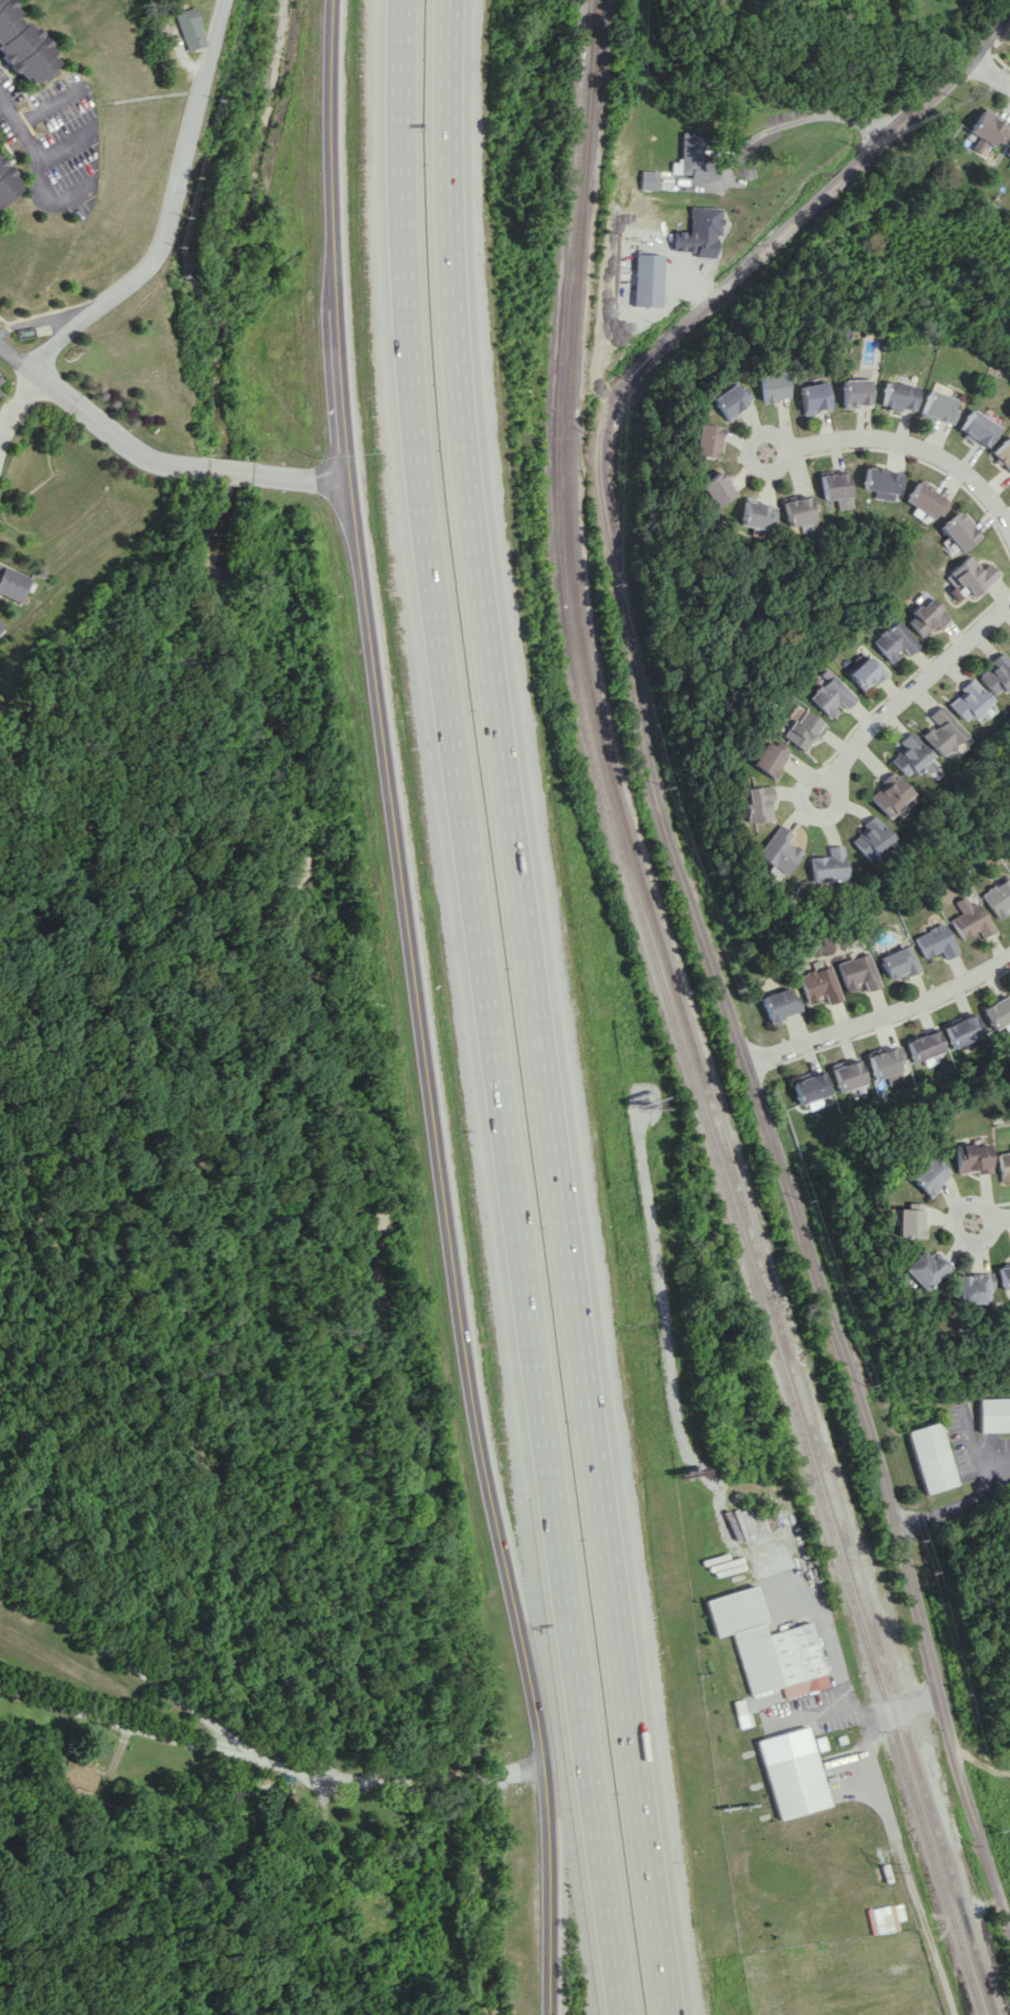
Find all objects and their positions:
building: (188, 28)
building: (23, 46)
road: (959, 69)
road: (989, 72)
road: (49, 105)
road: (815, 118)
building: (986, 131)
road: (63, 143)
road: (31, 148)
building: (1007, 153)
building: (693, 158)
building: (649, 179)
building: (6, 181)
road: (71, 192)
road: (167, 209)
building: (700, 232)
building: (647, 280)
building: (772, 386)
building: (857, 392)
building: (815, 396)
building: (901, 396)
road: (17, 398)
building: (728, 399)
building: (941, 407)
building: (979, 428)
road: (906, 438)
building: (703, 440)
building: (1004, 452)
road: (159, 459)
building: (883, 482)
building: (713, 488)
building: (837, 489)
building: (927, 501)
building: (799, 510)
building: (754, 514)
building: (961, 531)
building: (972, 577)
building: (13, 583)
building: (927, 617)
building: (1, 626)
building: (895, 640)
building: (867, 672)
building: (996, 674)
road: (912, 688)
building: (833, 694)
building: (969, 700)
building: (805, 729)
building: (943, 731)
building: (912, 756)
building: (768, 759)
building: (891, 795)
building: (756, 803)
building: (869, 837)
building: (775, 852)
building: (825, 864)
building: (997, 897)
building: (968, 919)
building: (933, 941)
building: (896, 963)
building: (856, 972)
road: (717, 979)
building: (818, 985)
building: (780, 1004)
road: (486, 1009)
road: (534, 1009)
road: (418, 1010)
road: (880, 1010)
building: (997, 1011)
railway: (673, 1023)
building: (962, 1030)
building: (923, 1045)
building: (885, 1061)
building: (848, 1074)
building: (810, 1087)
building: (973, 1158)
building: (1005, 1165)
building: (927, 1177)
road: (991, 1221)
building: (905, 1223)
building: (920, 1269)
building: (1002, 1276)
building: (967, 1287)
building: (994, 1414)
building: (931, 1457)
road: (954, 1506)
road: (825, 1635)
building: (768, 1645)
road: (121, 1665)
road: (881, 1715)
road: (268, 1761)
building: (793, 1772)
building: (78, 1777)
power tower: (892, 1865)
building: (885, 1918)

